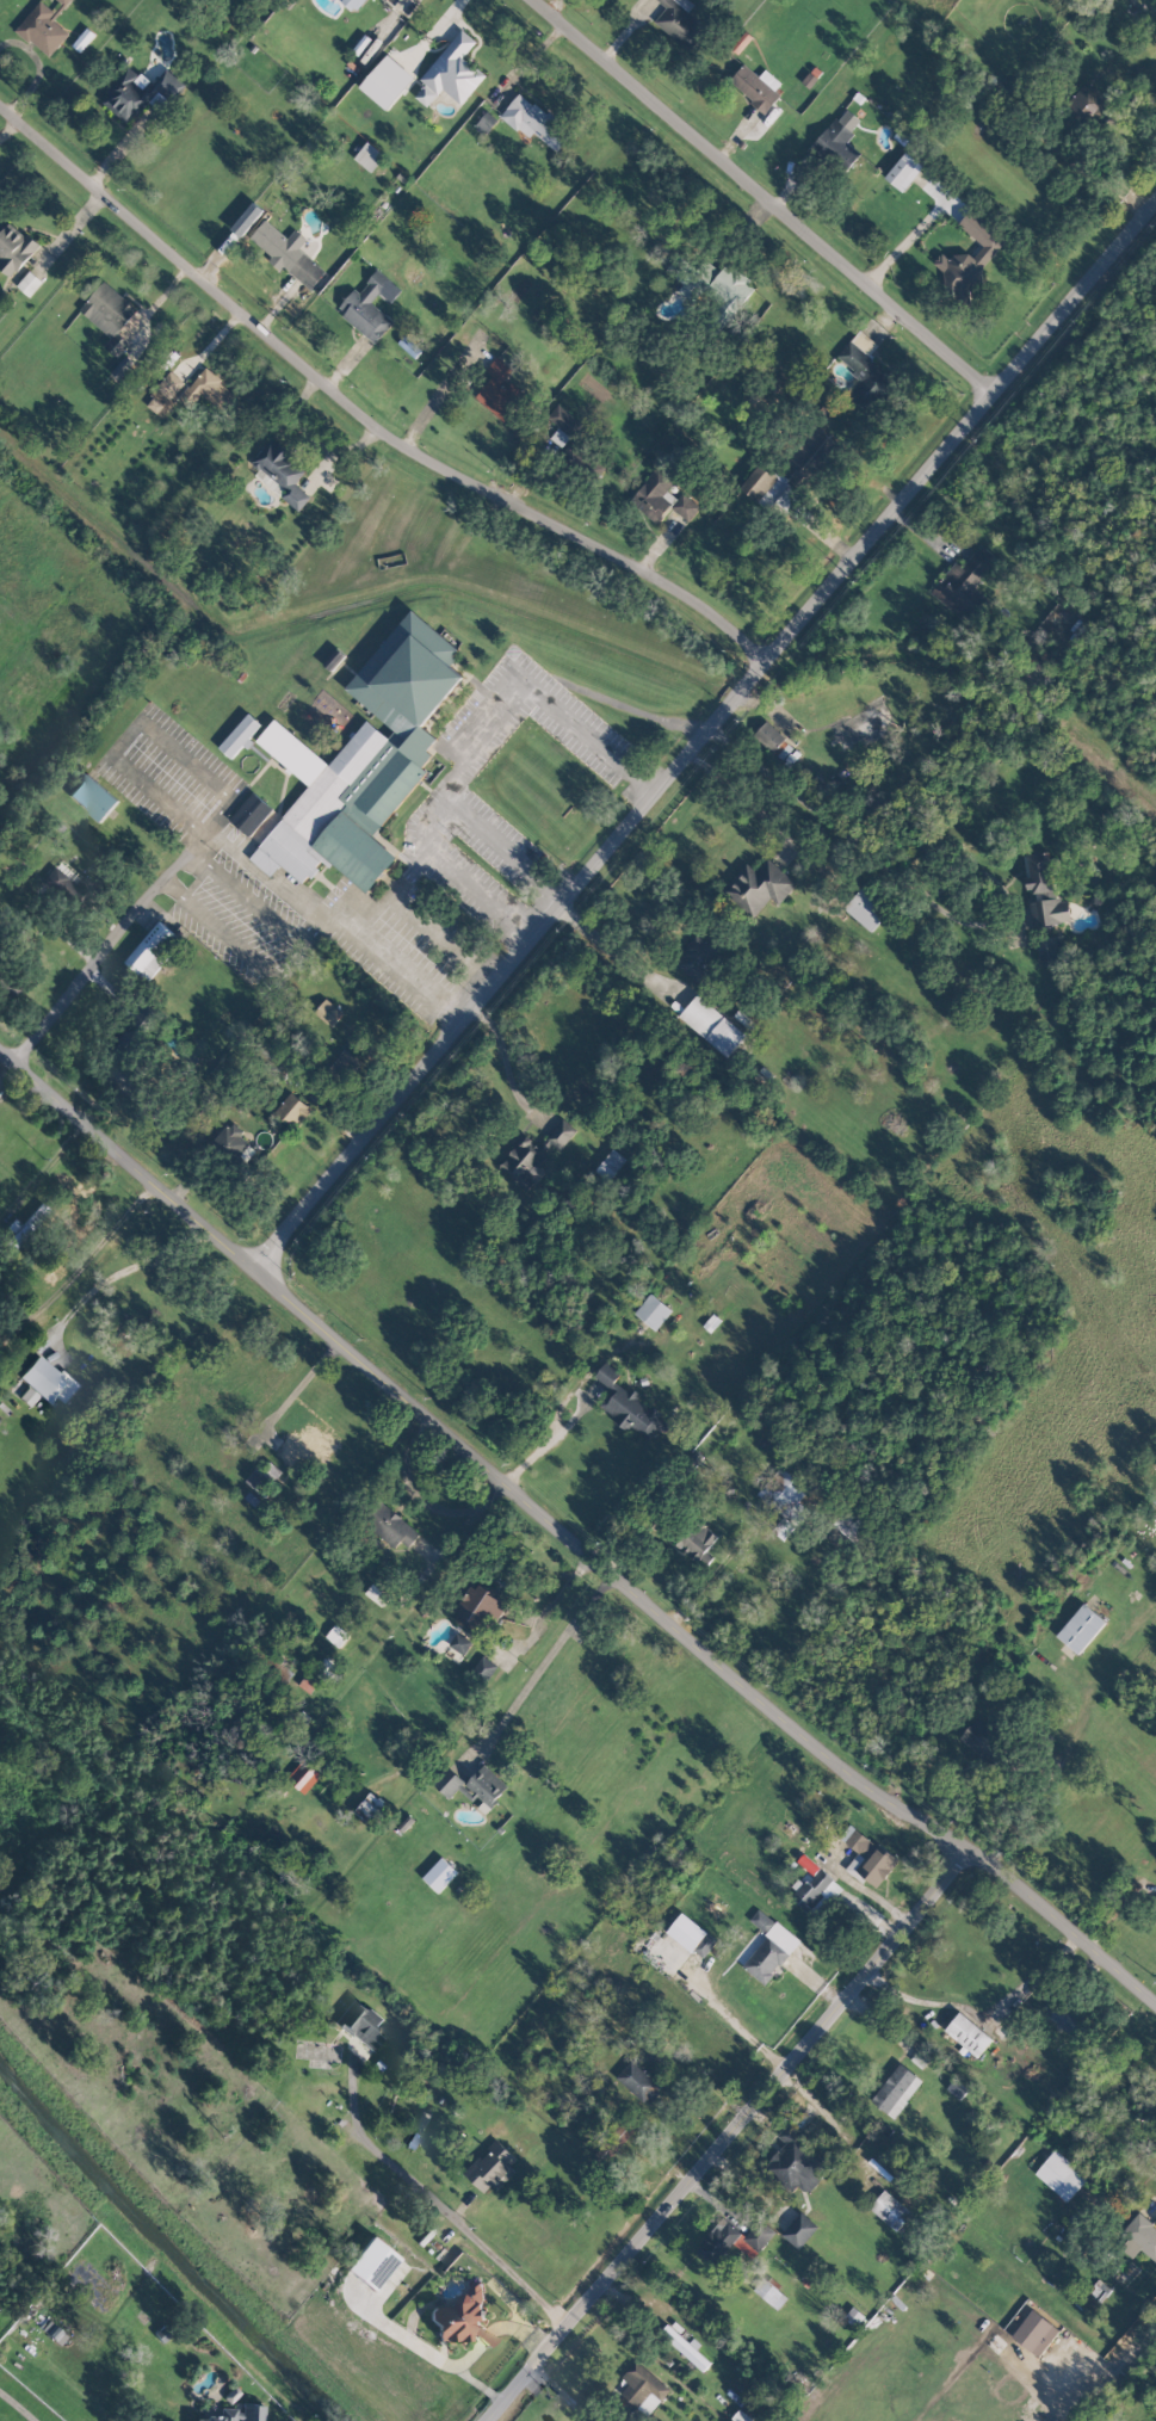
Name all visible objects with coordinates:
building: (387, 0)
building: (352, 4)
building: (680, 23)
building: (44, 27)
building: (452, 72)
building: (387, 81)
building: (758, 86)
building: (138, 93)
building: (1088, 103)
building: (533, 121)
building: (839, 142)
building: (369, 156)
building: (904, 172)
road: (764, 197)
road: (916, 229)
building: (14, 249)
building: (289, 253)
building: (972, 259)
building: (690, 282)
building: (30, 283)
building: (731, 290)
building: (370, 305)
building: (110, 315)
building: (865, 370)
building: (208, 390)
building: (500, 390)
building: (165, 394)
road: (361, 421)
building: (564, 421)
building: (808, 464)
building: (282, 474)
building: (655, 495)
building: (686, 507)
building: (966, 587)
road: (641, 710)
road: (132, 729)
road: (478, 729)
building: (240, 736)
road: (705, 737)
building: (774, 741)
building: (363, 761)
building: (93, 797)
building: (251, 814)
road: (854, 845)
road: (409, 865)
building: (760, 887)
building: (73, 889)
building: (1046, 890)
road: (482, 891)
building: (866, 908)
road: (336, 919)
road: (115, 939)
road: (271, 940)
road: (613, 950)
building: (1051, 950)
building: (153, 951)
building: (699, 957)
building: (328, 1012)
building: (712, 1025)
road: (506, 1062)
building: (344, 1064)
building: (292, 1110)
building: (561, 1134)
building: (525, 1161)
road: (123, 1271)
building: (653, 1311)
building: (49, 1381)
building: (630, 1406)
building: (308, 1446)
road: (531, 1457)
building: (784, 1500)
building: (394, 1528)
road: (567, 1539)
building: (697, 1540)
building: (378, 1595)
road: (555, 1601)
building: (480, 1611)
building: (1081, 1629)
building: (336, 1635)
building: (462, 1641)
road: (545, 1660)
building: (486, 1667)
building: (983, 1742)
building: (304, 1775)
building: (449, 1781)
building: (484, 1786)
building: (372, 1809)
building: (867, 1857)
building: (440, 1875)
building: (816, 1891)
building: (1154, 1914)
building: (692, 1935)
building: (769, 1947)
road: (983, 2014)
road: (731, 2020)
building: (1068, 2020)
building: (360, 2022)
road: (527, 2030)
building: (969, 2034)
building: (651, 2049)
building: (921, 2057)
building: (639, 2081)
building: (896, 2090)
road: (729, 2142)
building: (796, 2162)
building: (492, 2167)
building: (1061, 2175)
road: (434, 2199)
building: (890, 2210)
building: (800, 2230)
building: (1138, 2236)
building: (735, 2241)
building: (371, 2263)
building: (1100, 2291)
building: (769, 2293)
building: (460, 2320)
building: (1036, 2333)
building: (687, 2348)
building: (639, 2386)
road: (561, 2392)
road: (11, 2411)
building: (252, 2413)
building: (222, 2415)

